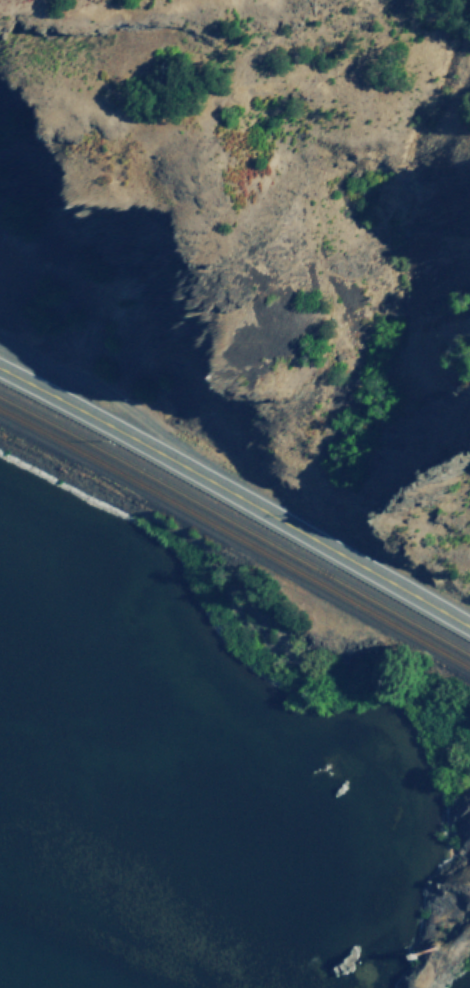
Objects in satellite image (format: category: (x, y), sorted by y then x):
road: (236, 494)
railway: (236, 524)
railway: (237, 539)

